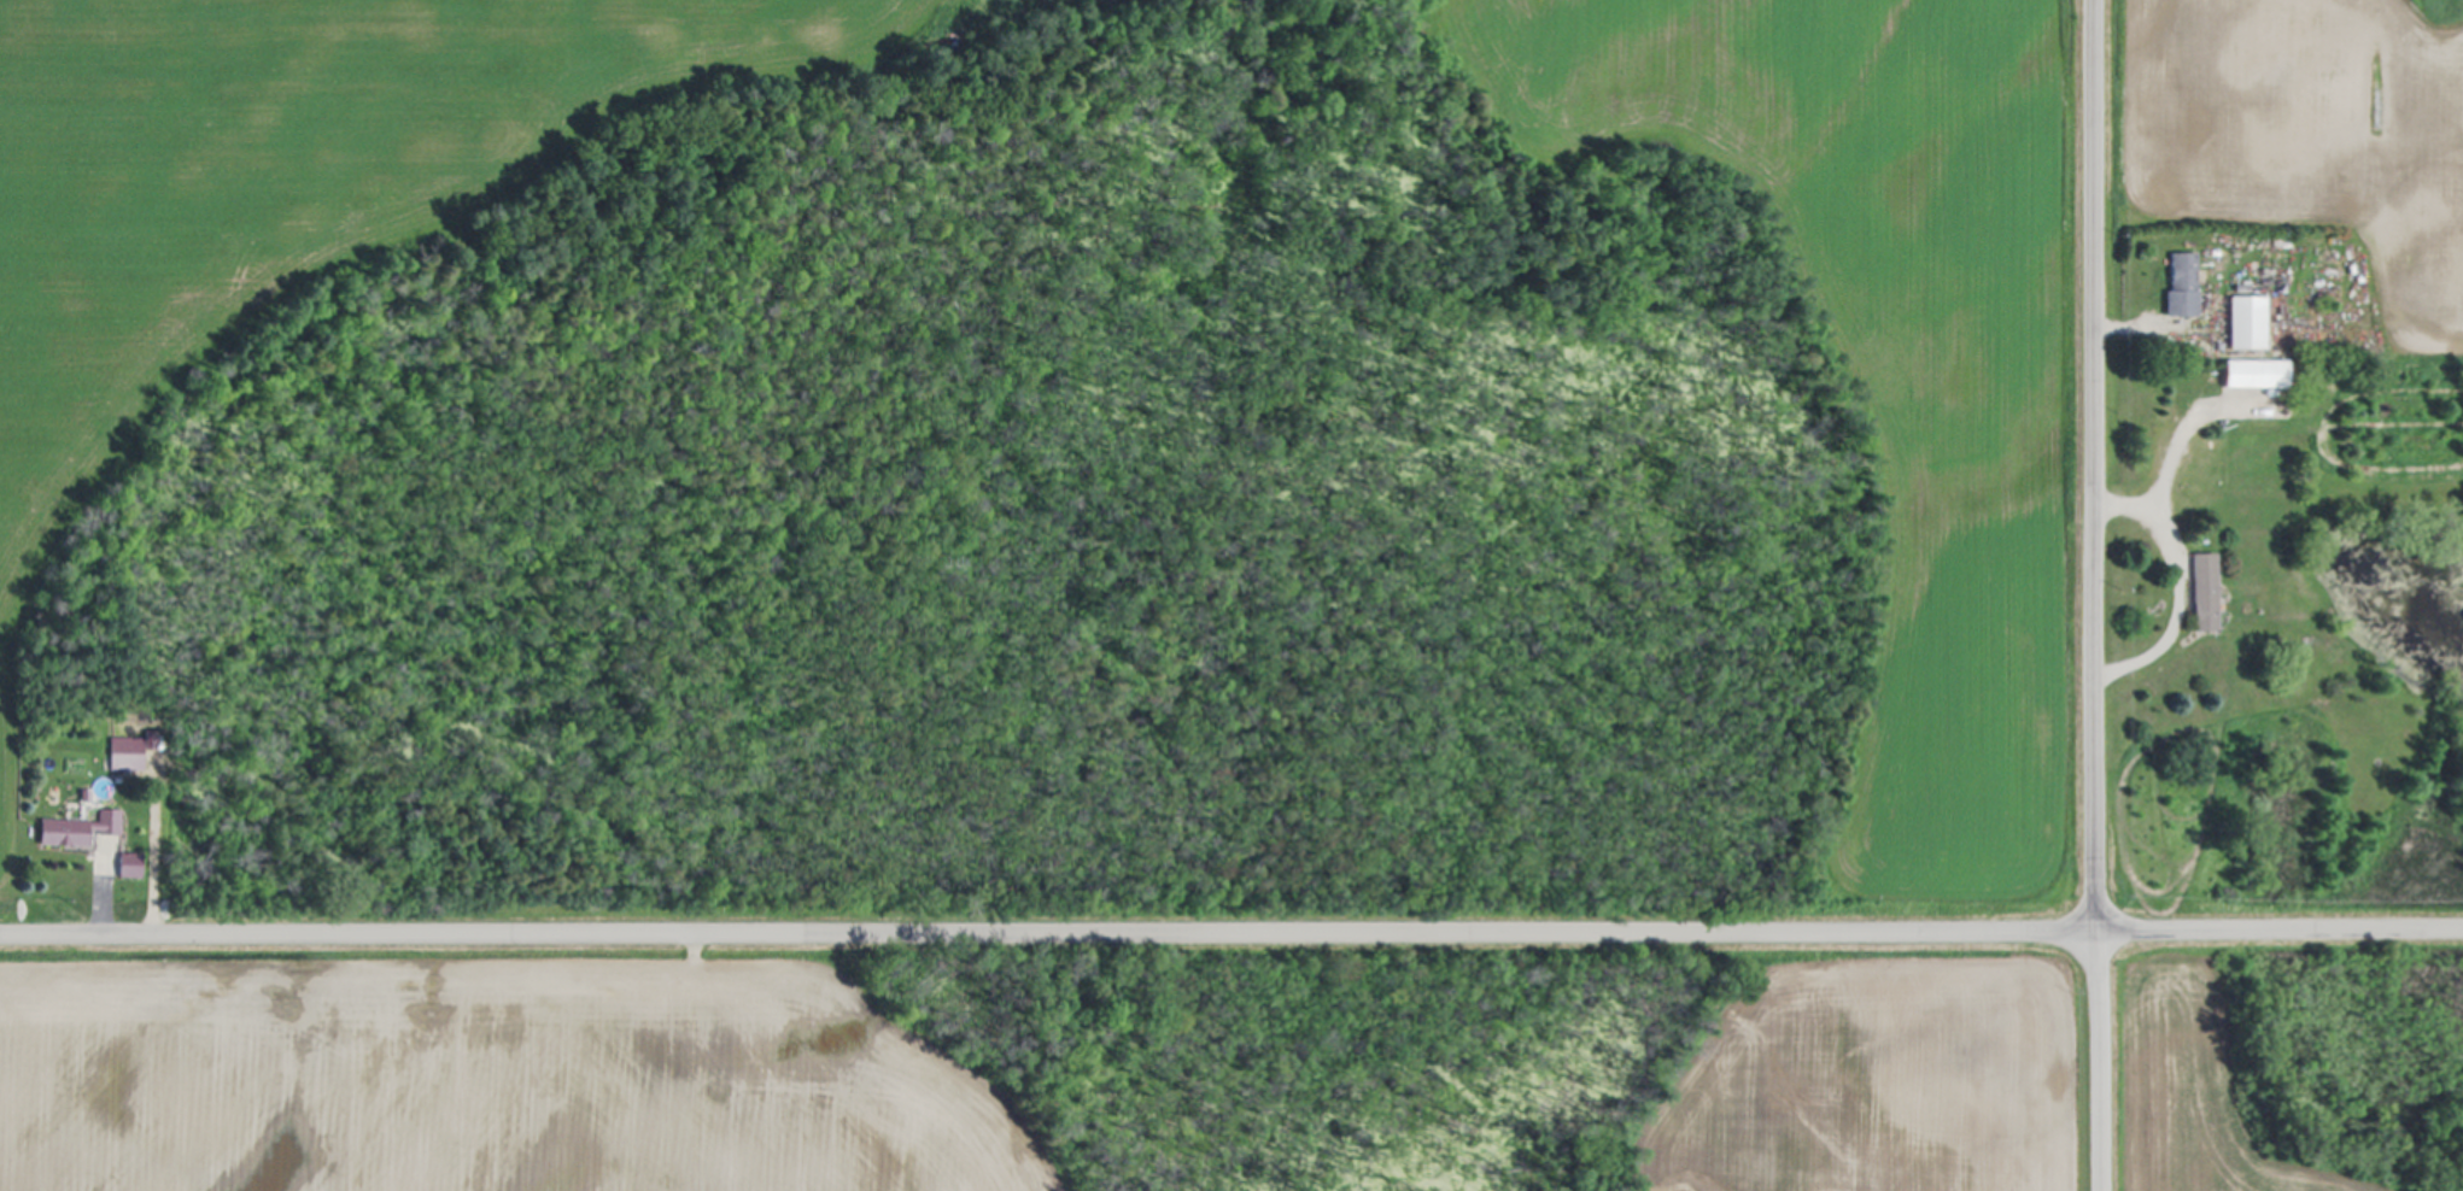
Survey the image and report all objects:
building: (2177, 286)
building: (2241, 323)
road: (2146, 328)
building: (2248, 375)
road: (2189, 423)
road: (2181, 583)
building: (2198, 593)
road: (2098, 595)
building: (129, 753)
building: (82, 829)
road: (158, 845)
building: (134, 866)
road: (105, 913)
road: (1231, 934)

